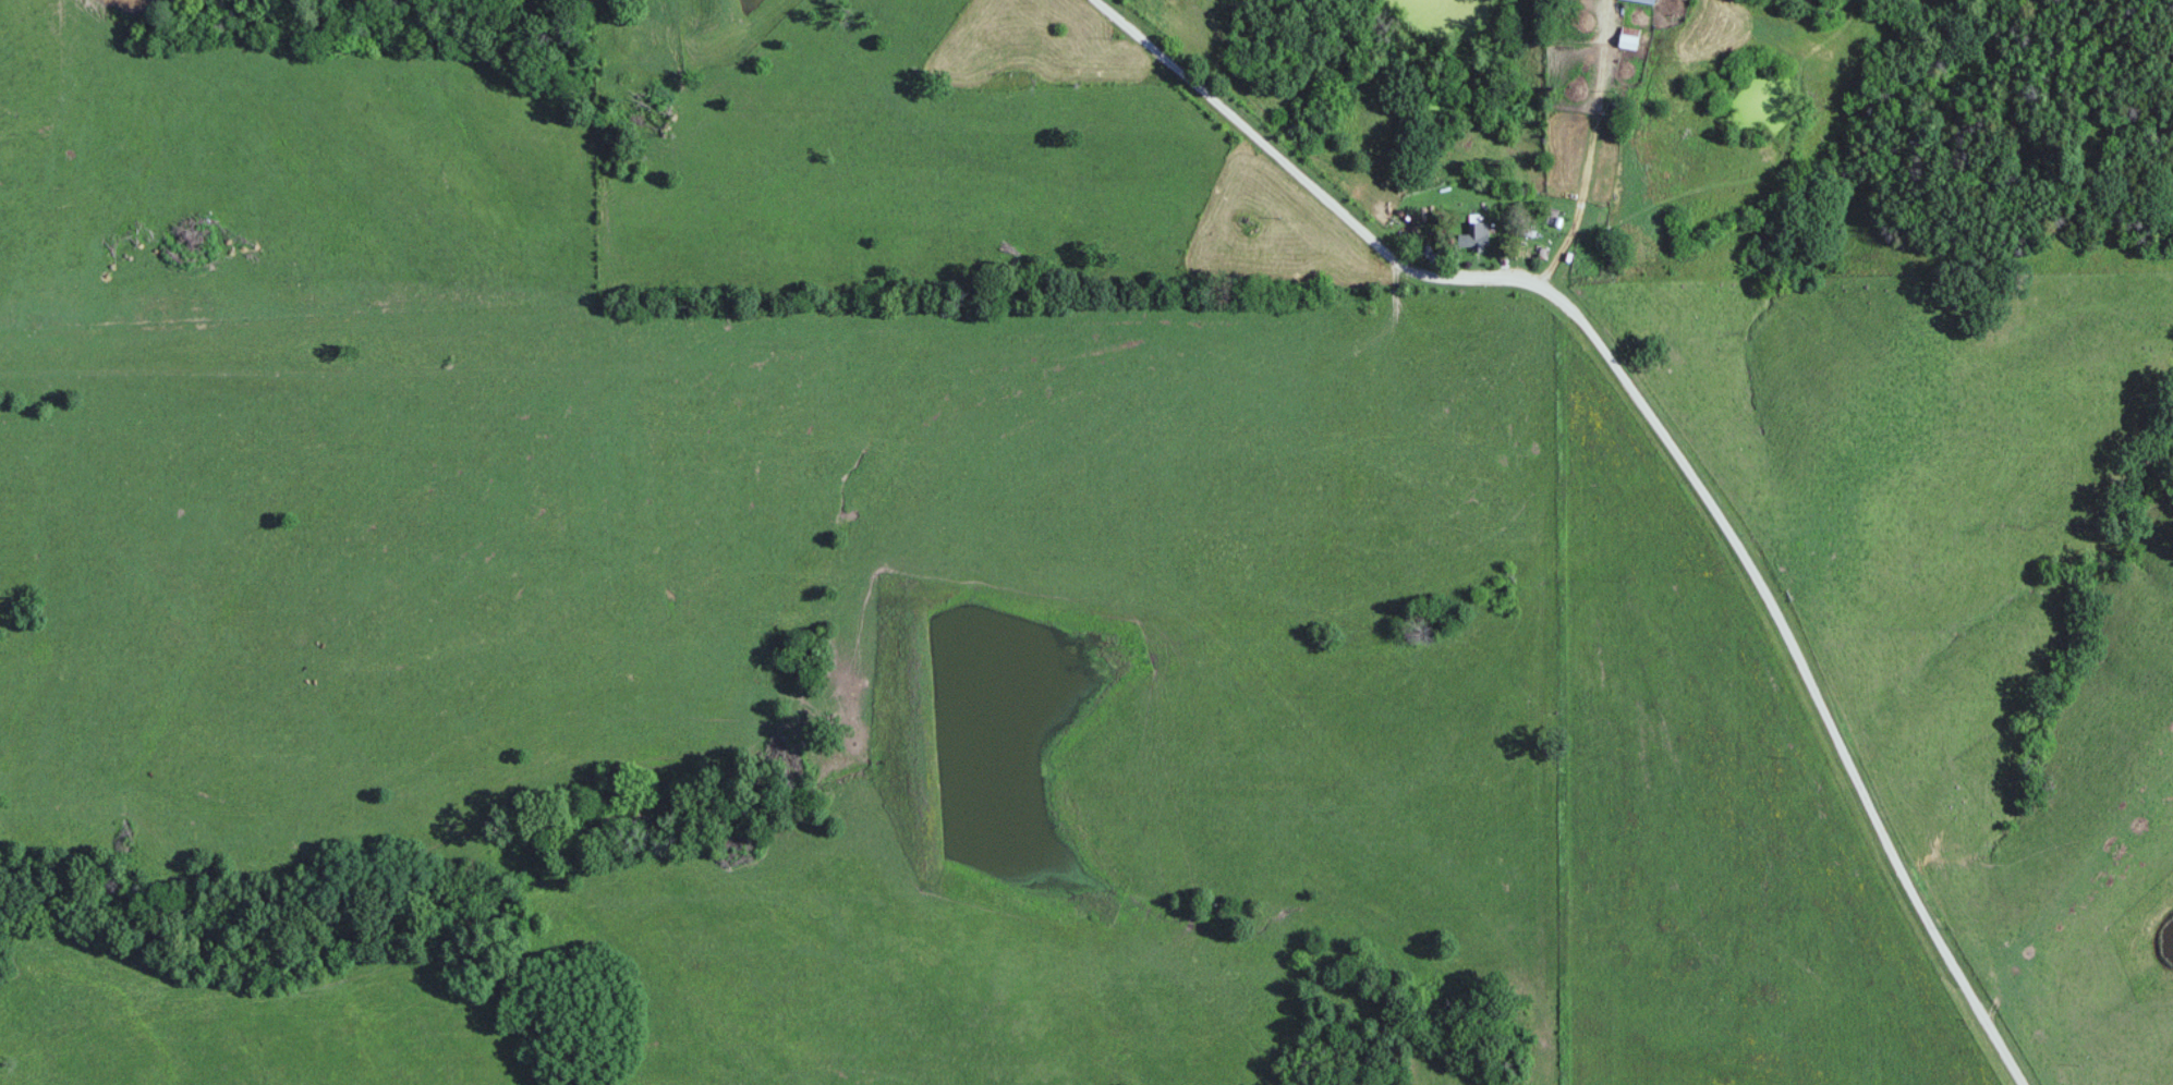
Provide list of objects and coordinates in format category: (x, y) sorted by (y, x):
building: (1647, 1)
building: (991, 37)
building: (1630, 38)
road: (1597, 144)
building: (1247, 224)
building: (1476, 233)
road: (1671, 437)

